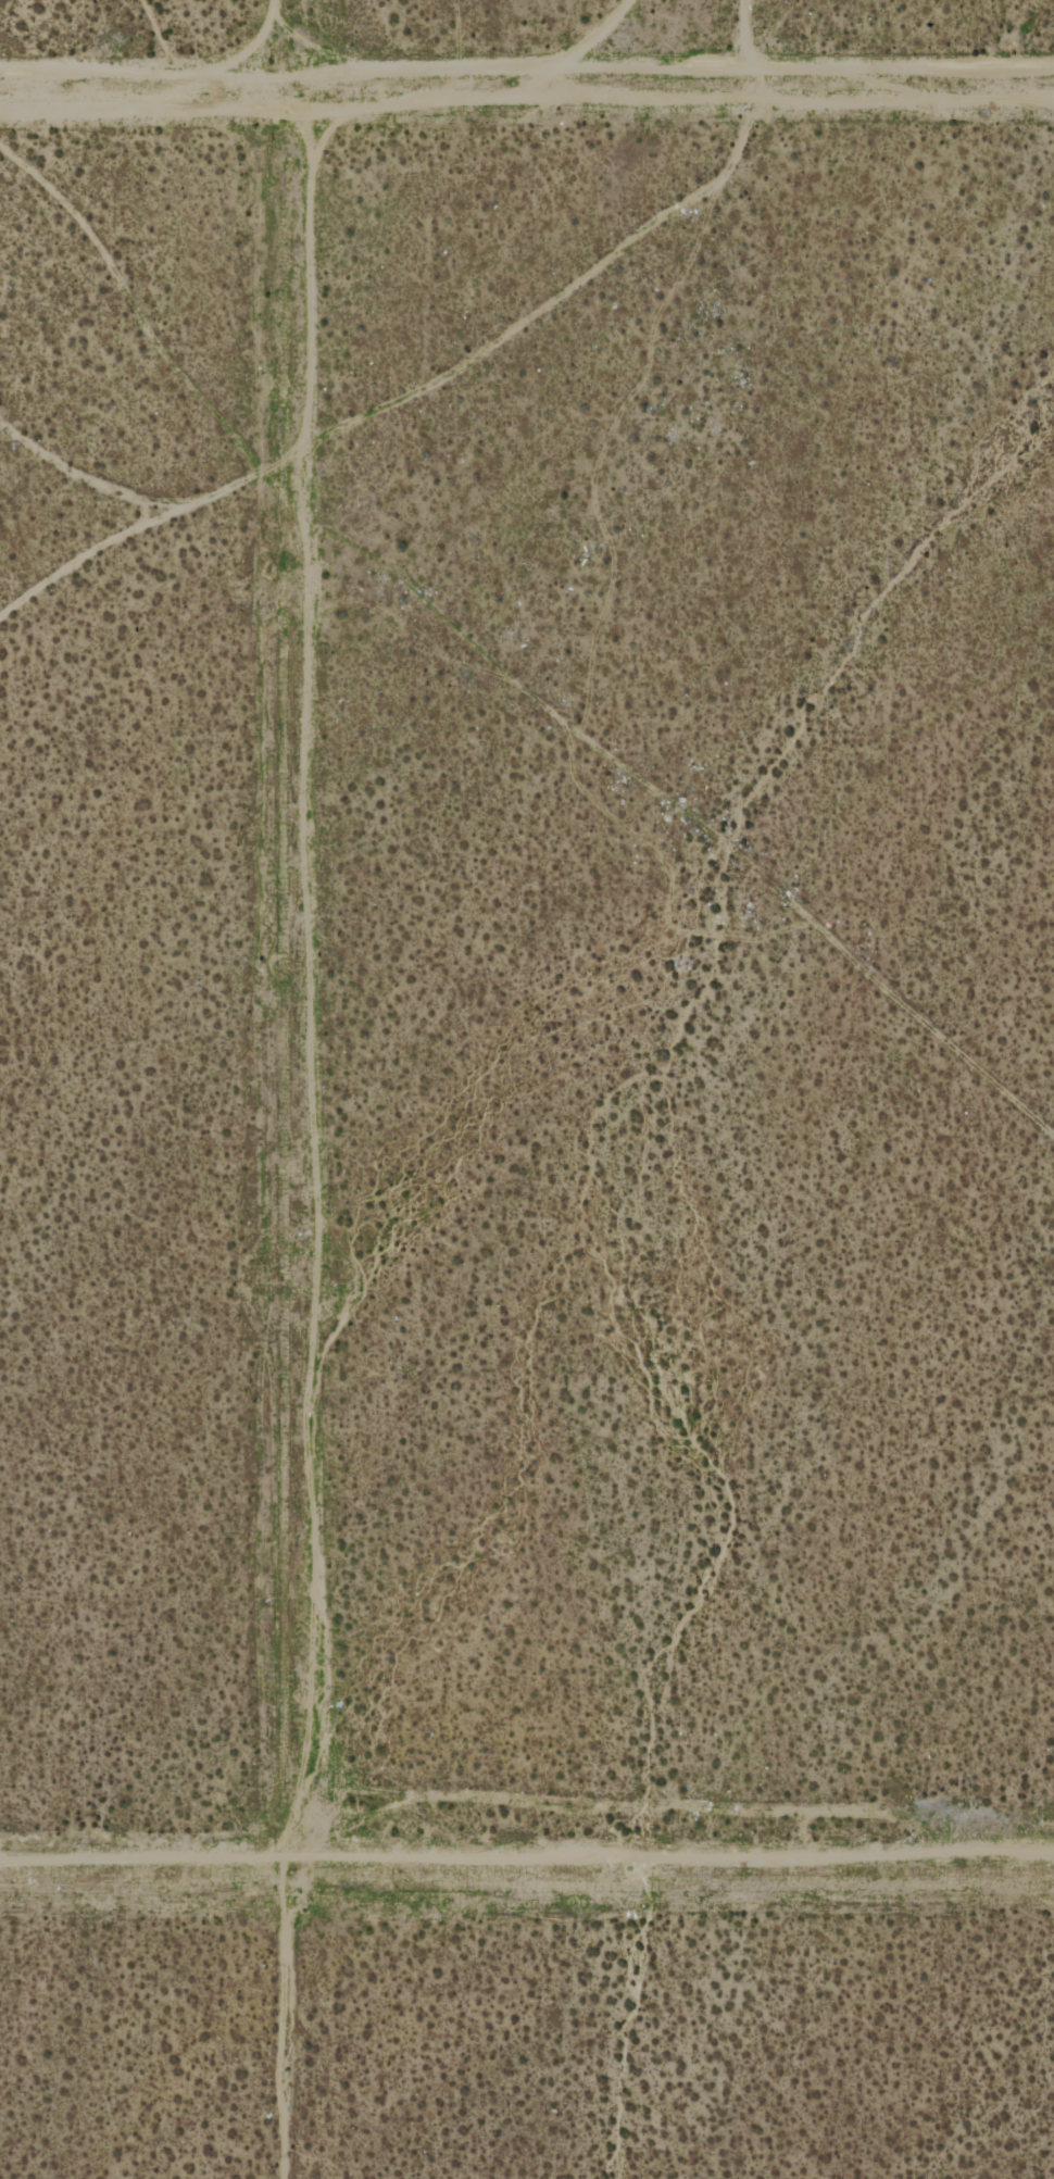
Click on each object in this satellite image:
road: (741, 33)
road: (526, 78)
road: (288, 1089)
road: (154, 1854)
road: (681, 1855)

